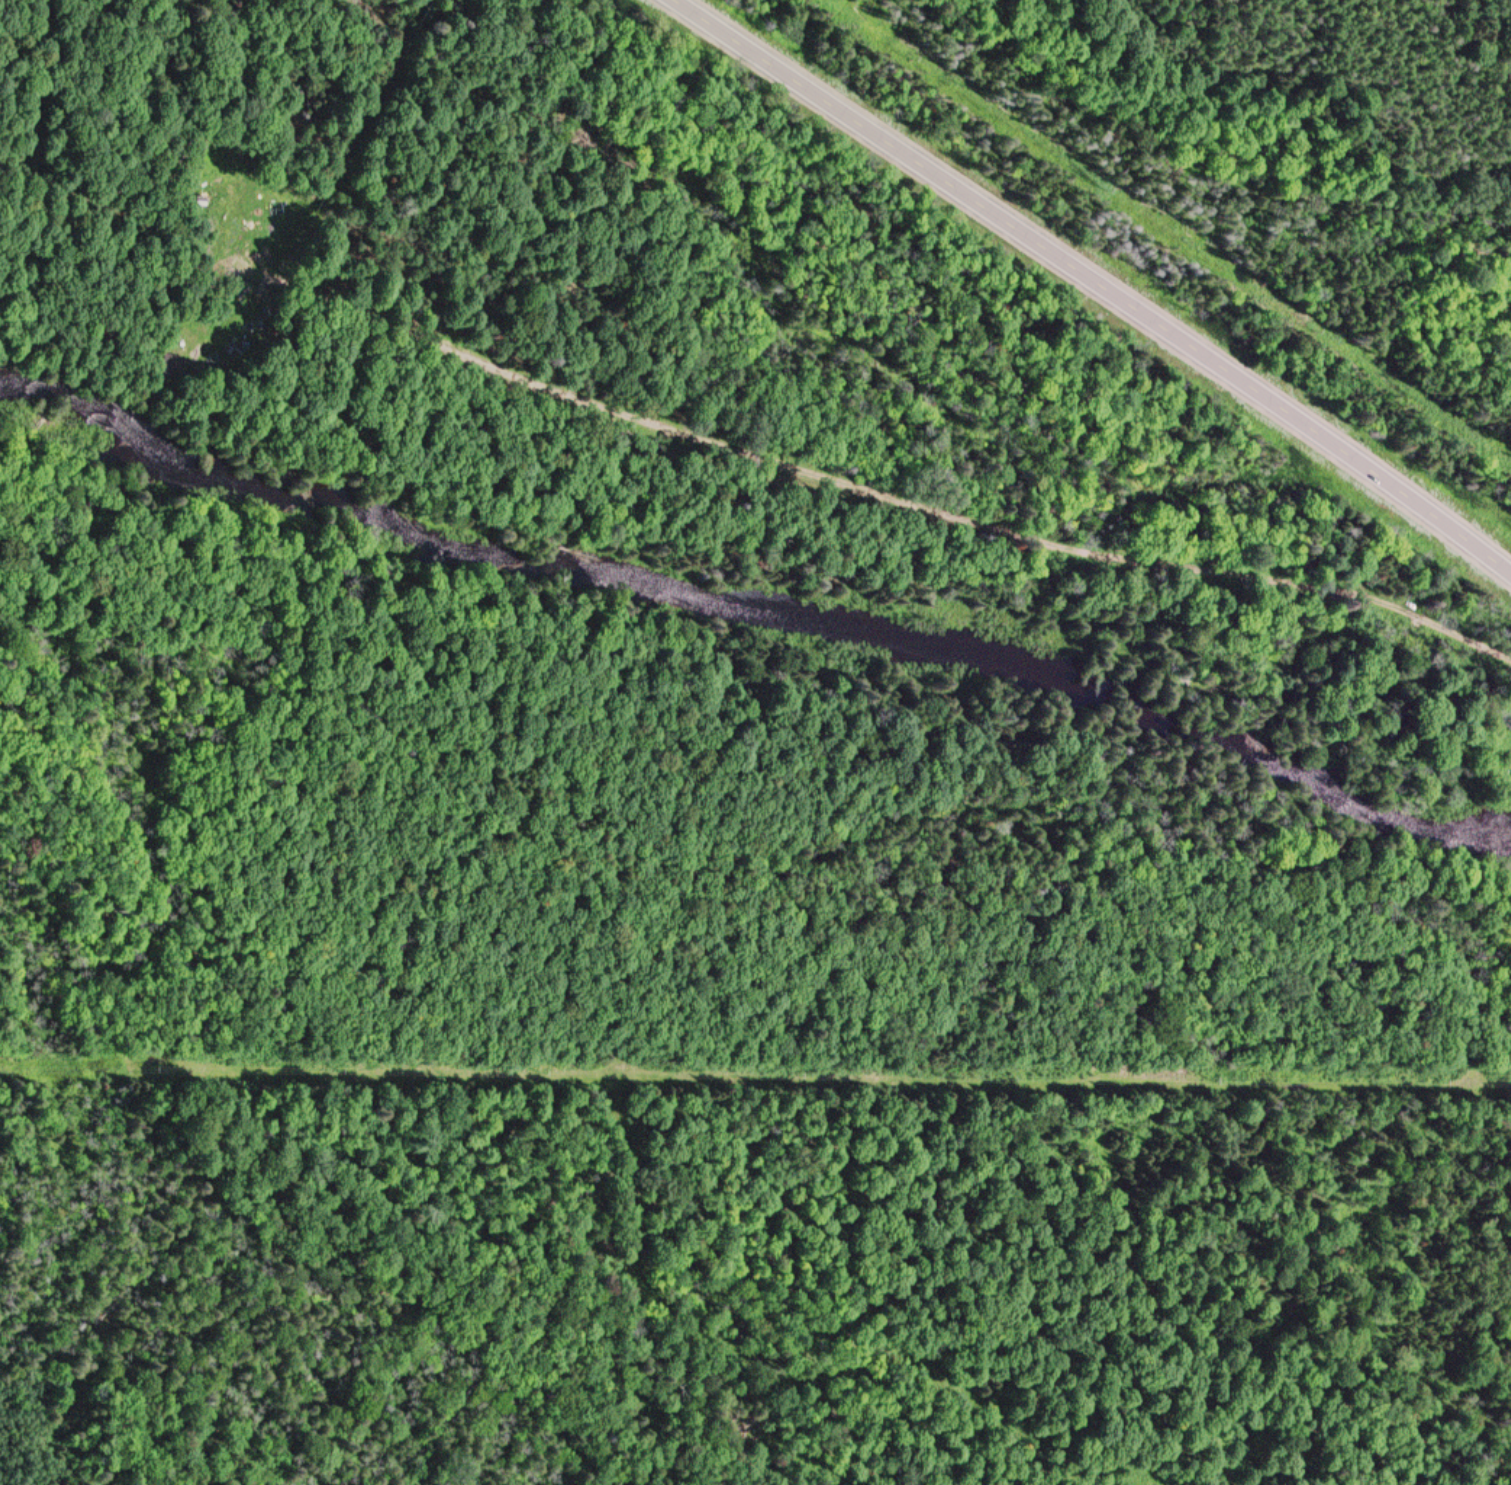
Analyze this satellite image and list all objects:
road: (1096, 283)
road: (744, 456)
river: (756, 651)

